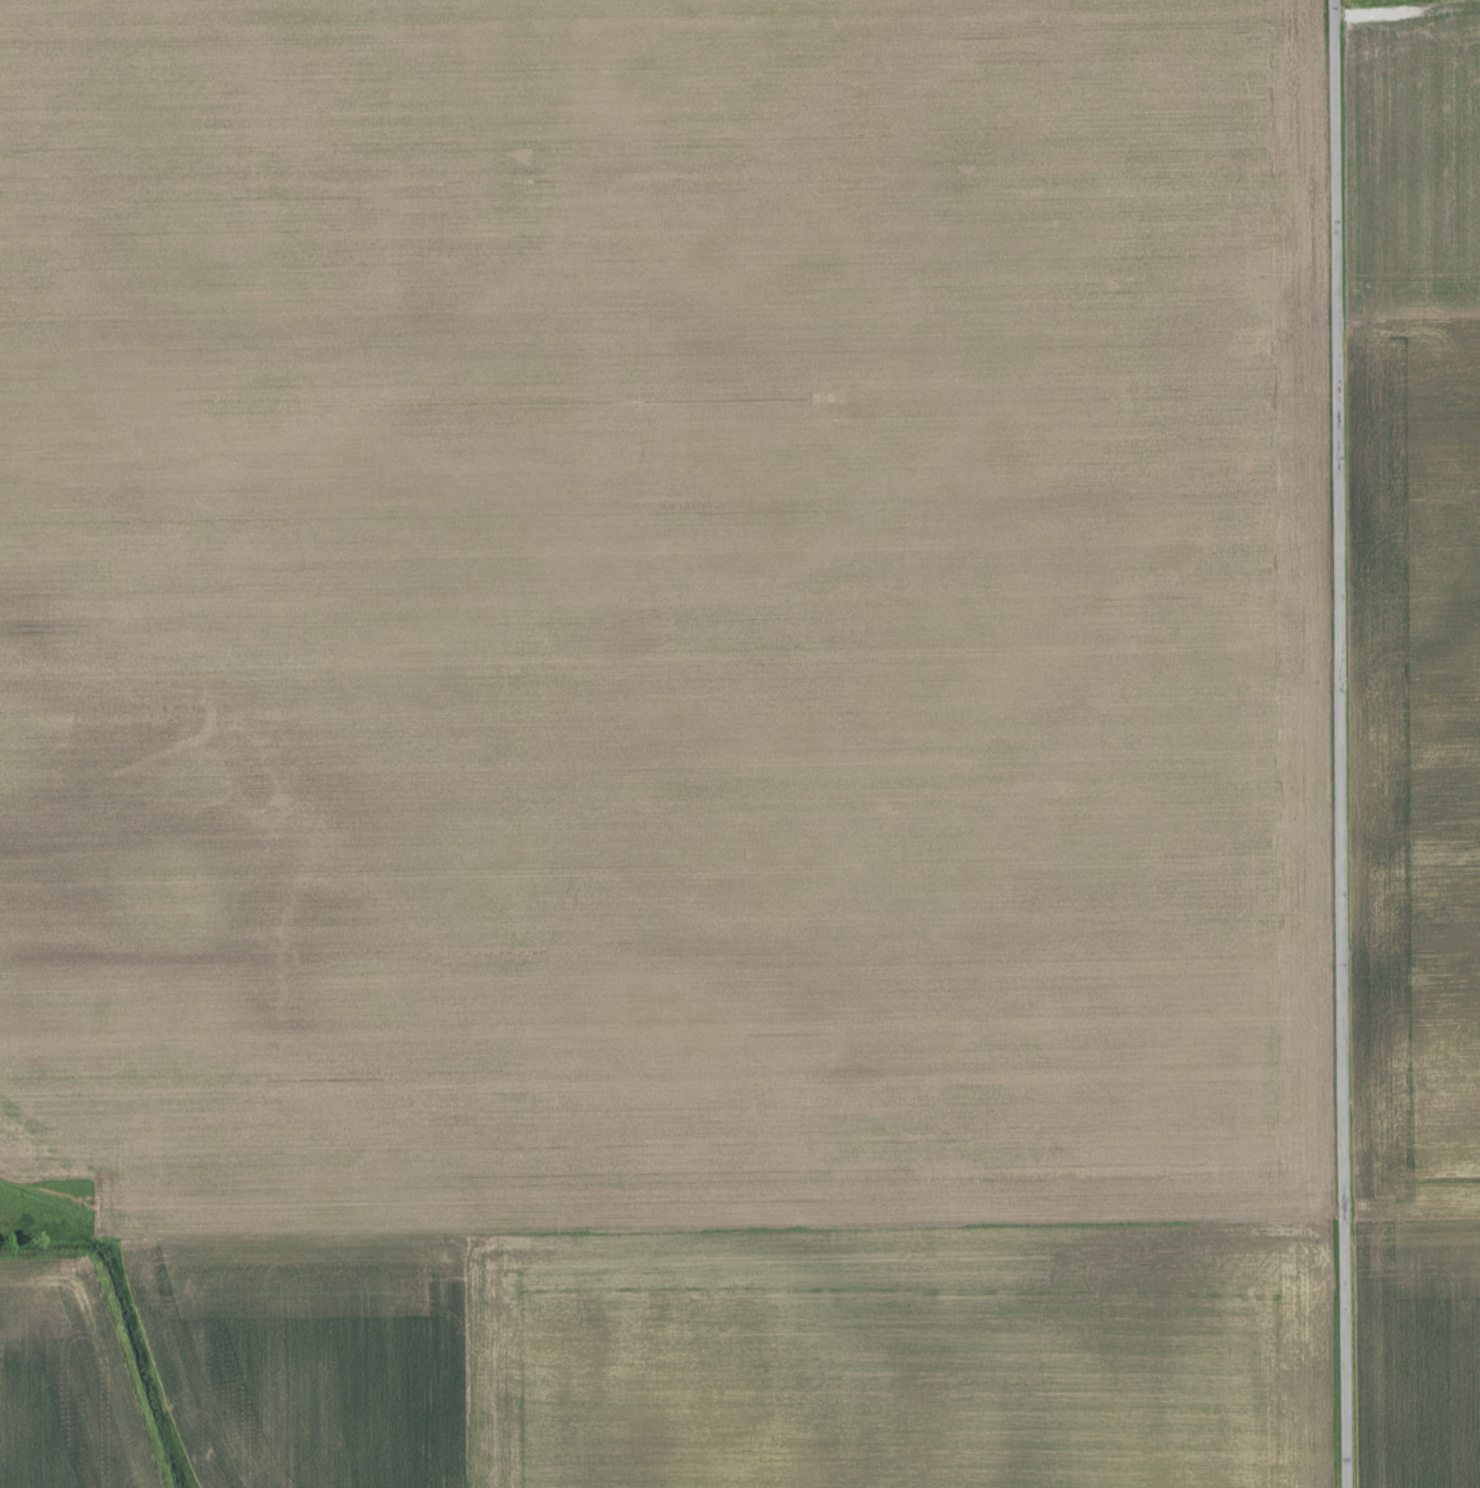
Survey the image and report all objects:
road: (1343, 744)

